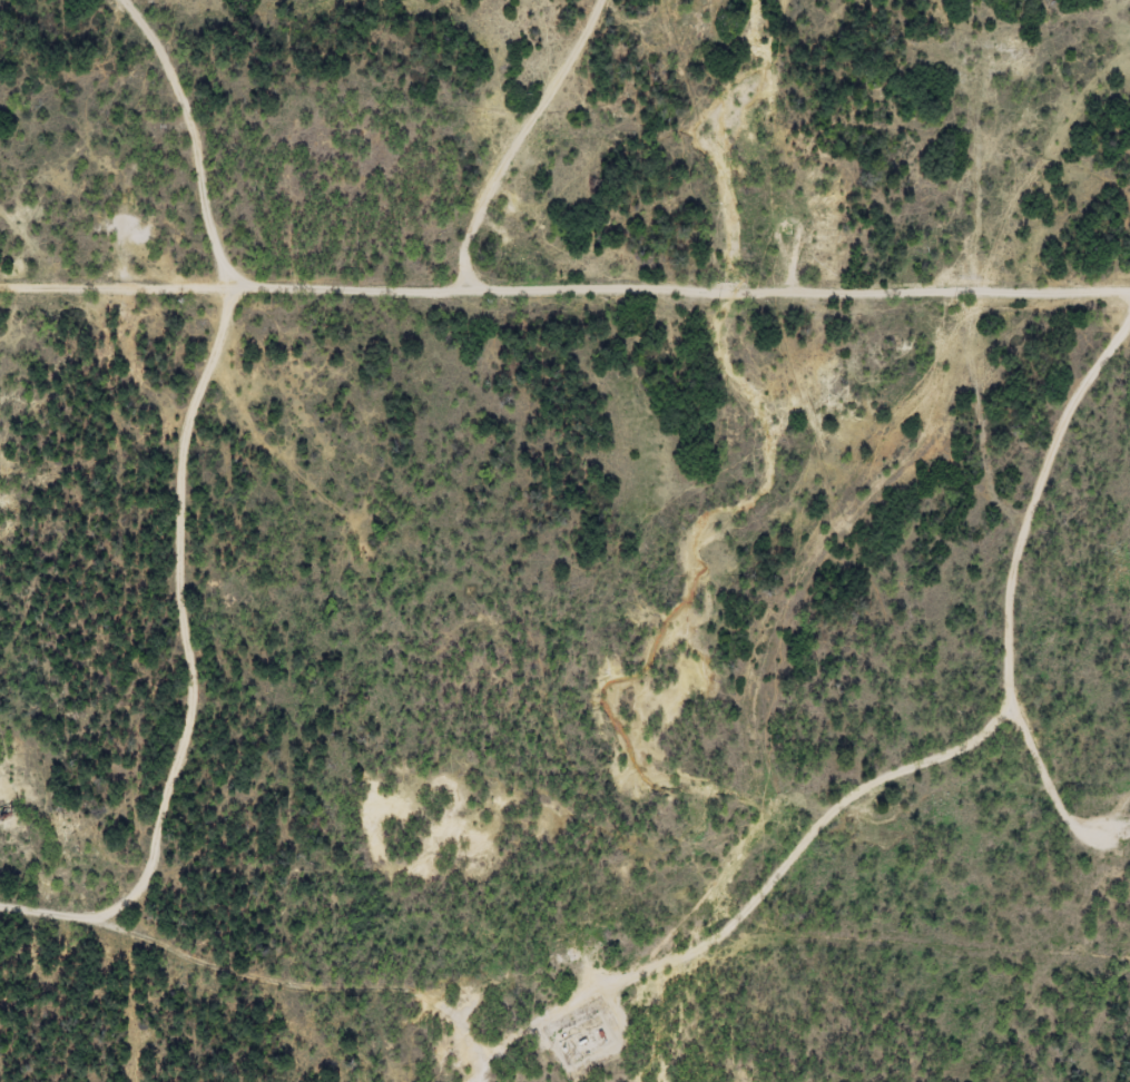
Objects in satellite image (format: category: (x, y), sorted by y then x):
road: (991, 195)
road: (1063, 301)
road: (972, 778)

